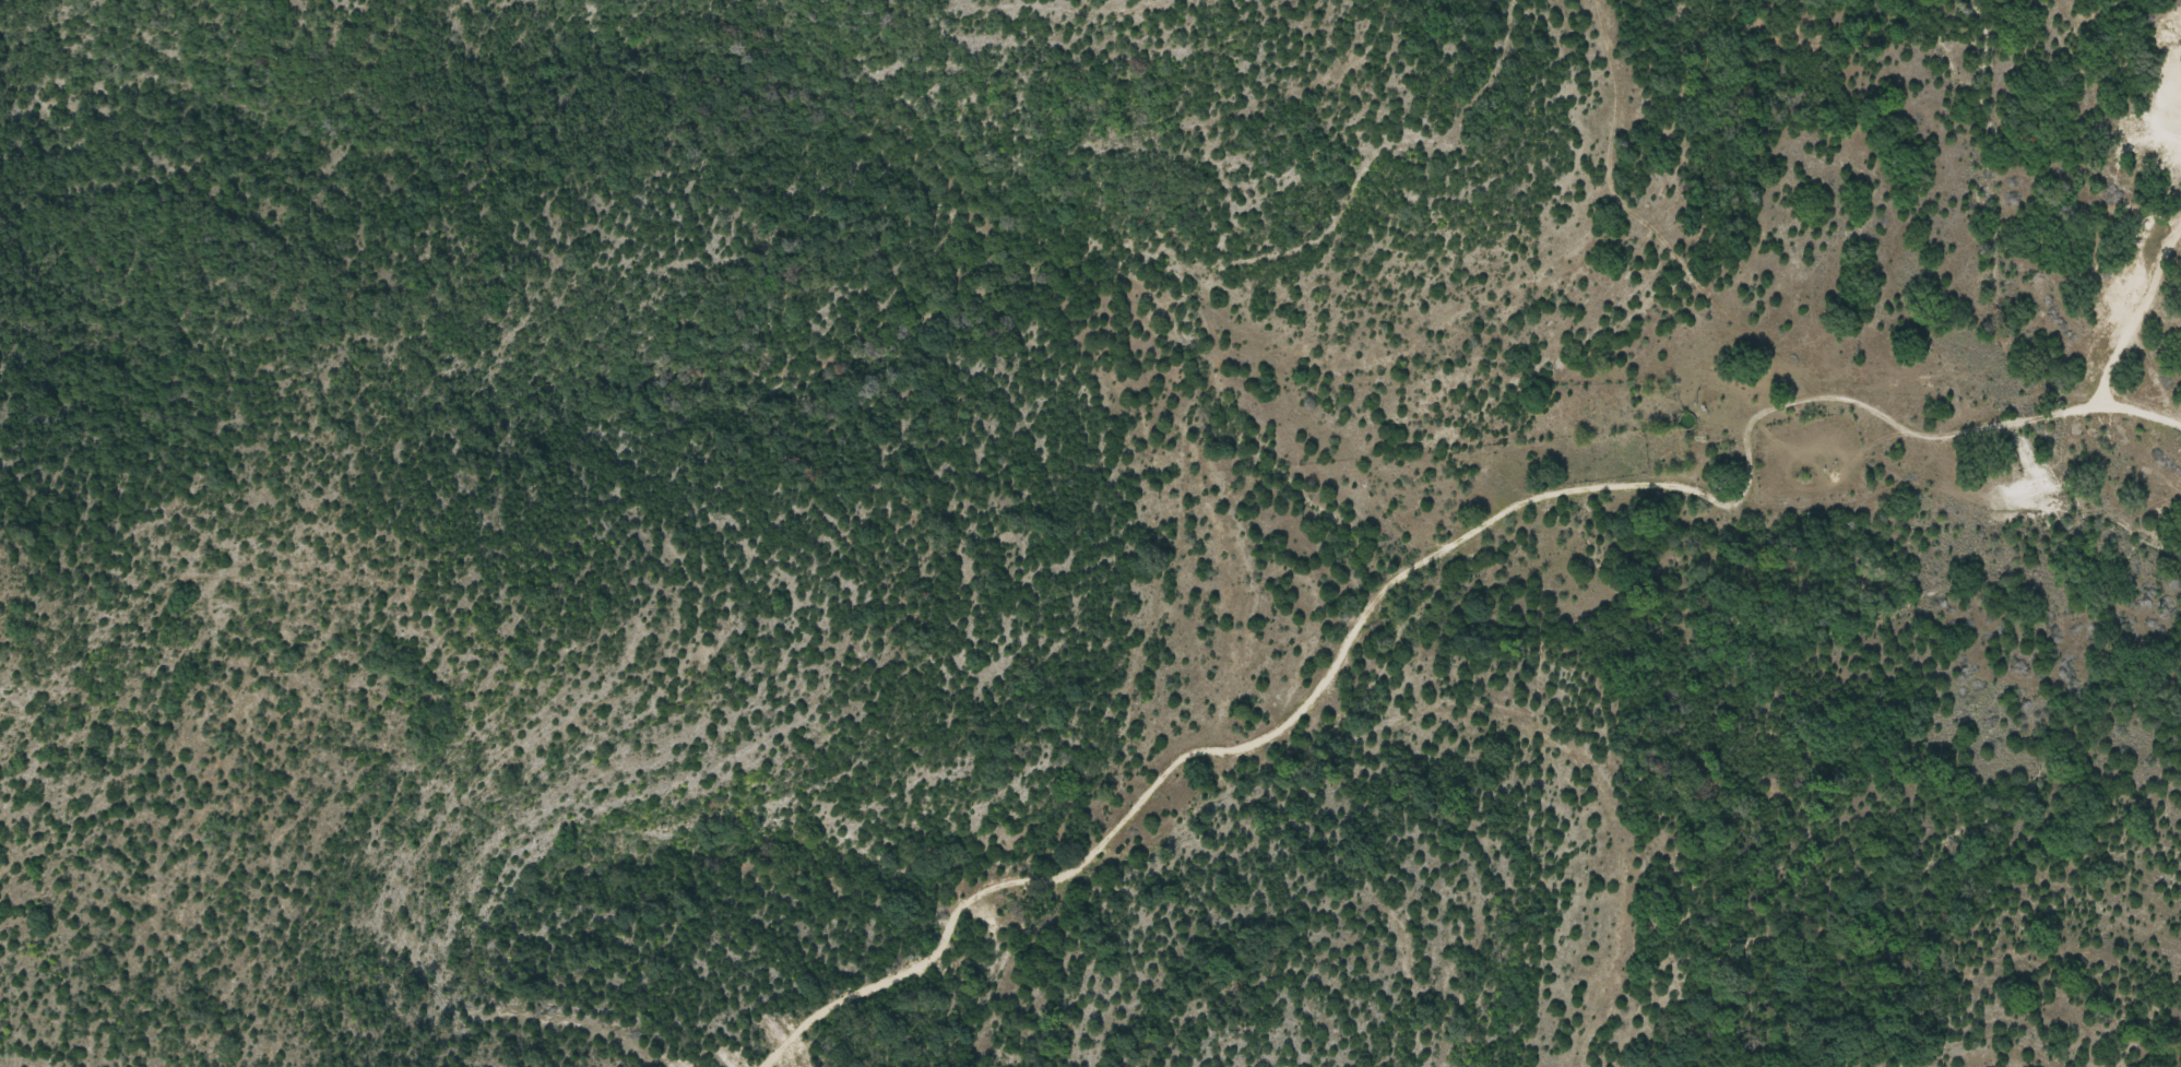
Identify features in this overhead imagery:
road: (2152, 281)
road: (2090, 371)
road: (2032, 390)

